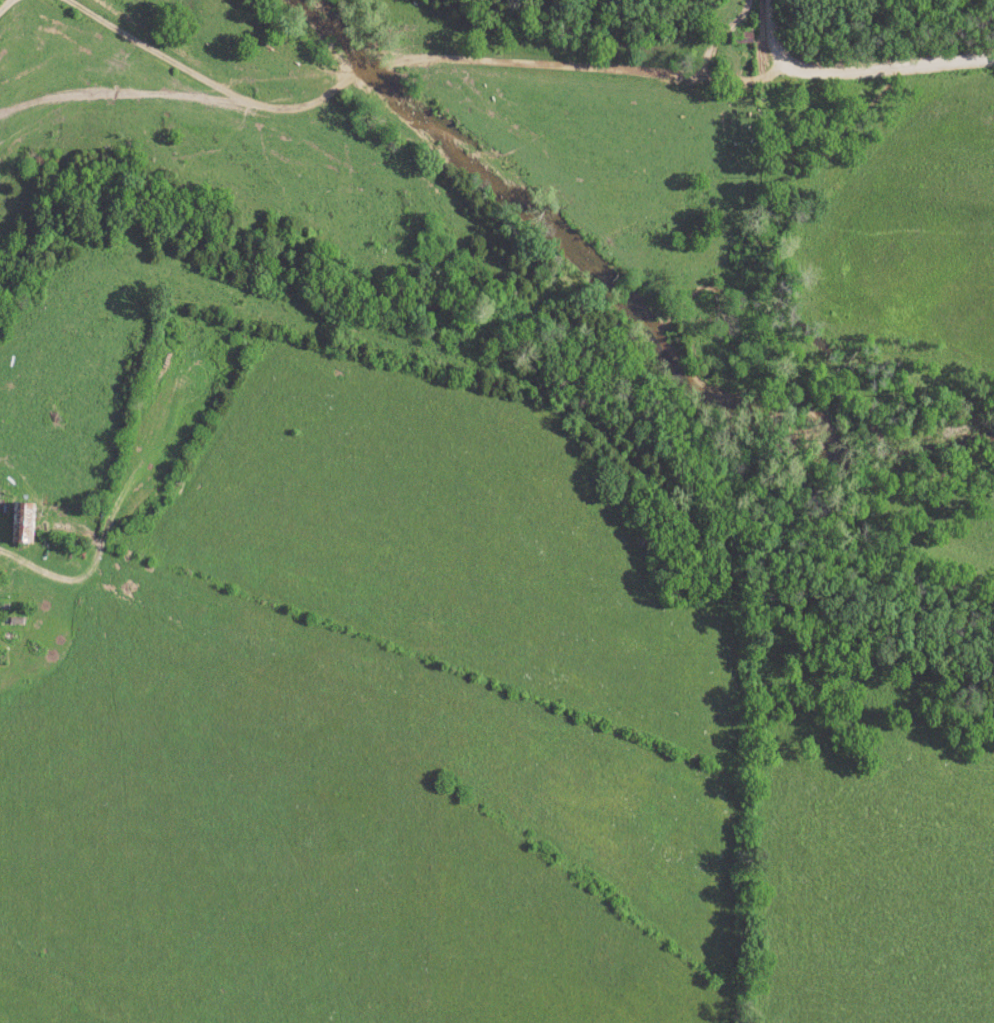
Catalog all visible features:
road: (4, 3)
road: (580, 65)
road: (854, 71)
road: (215, 87)
road: (128, 101)

